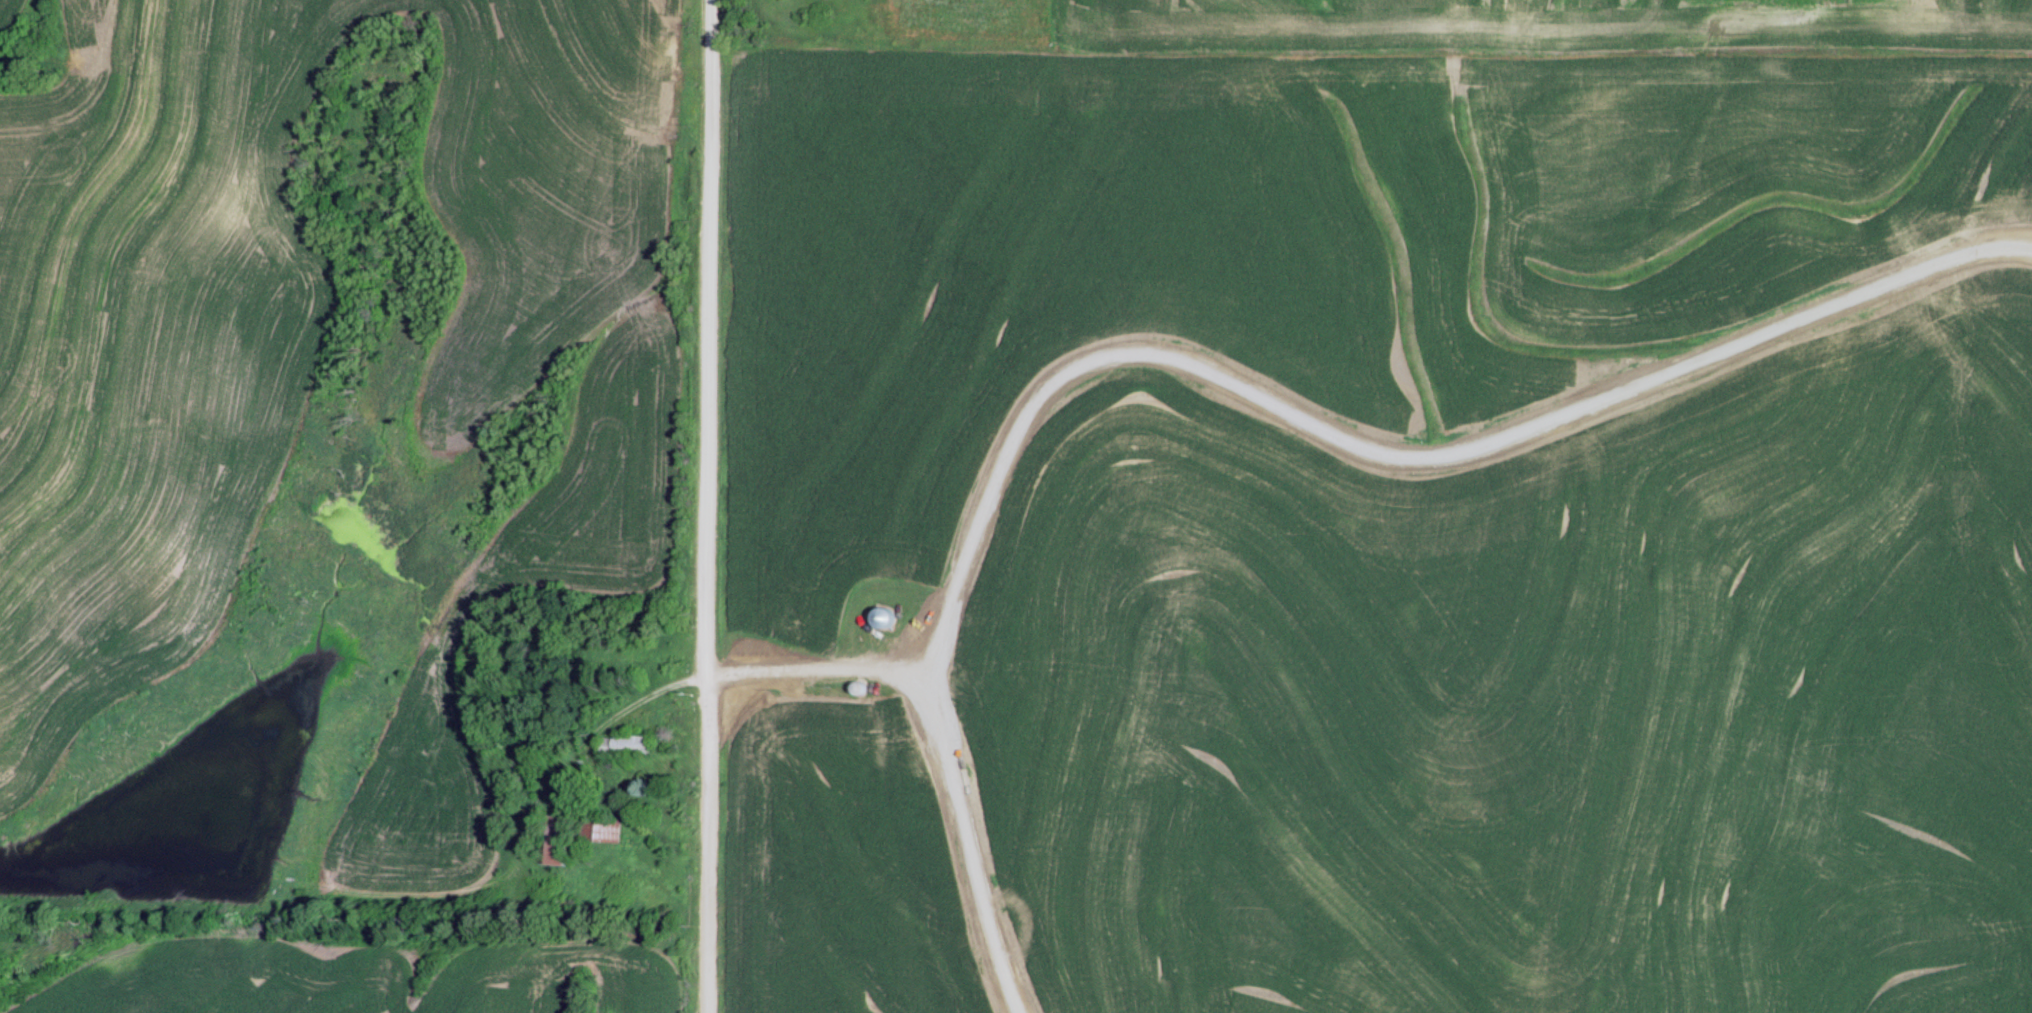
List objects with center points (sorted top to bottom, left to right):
road: (692, 506)
building: (880, 617)
building: (621, 745)
building: (595, 828)
building: (551, 839)

